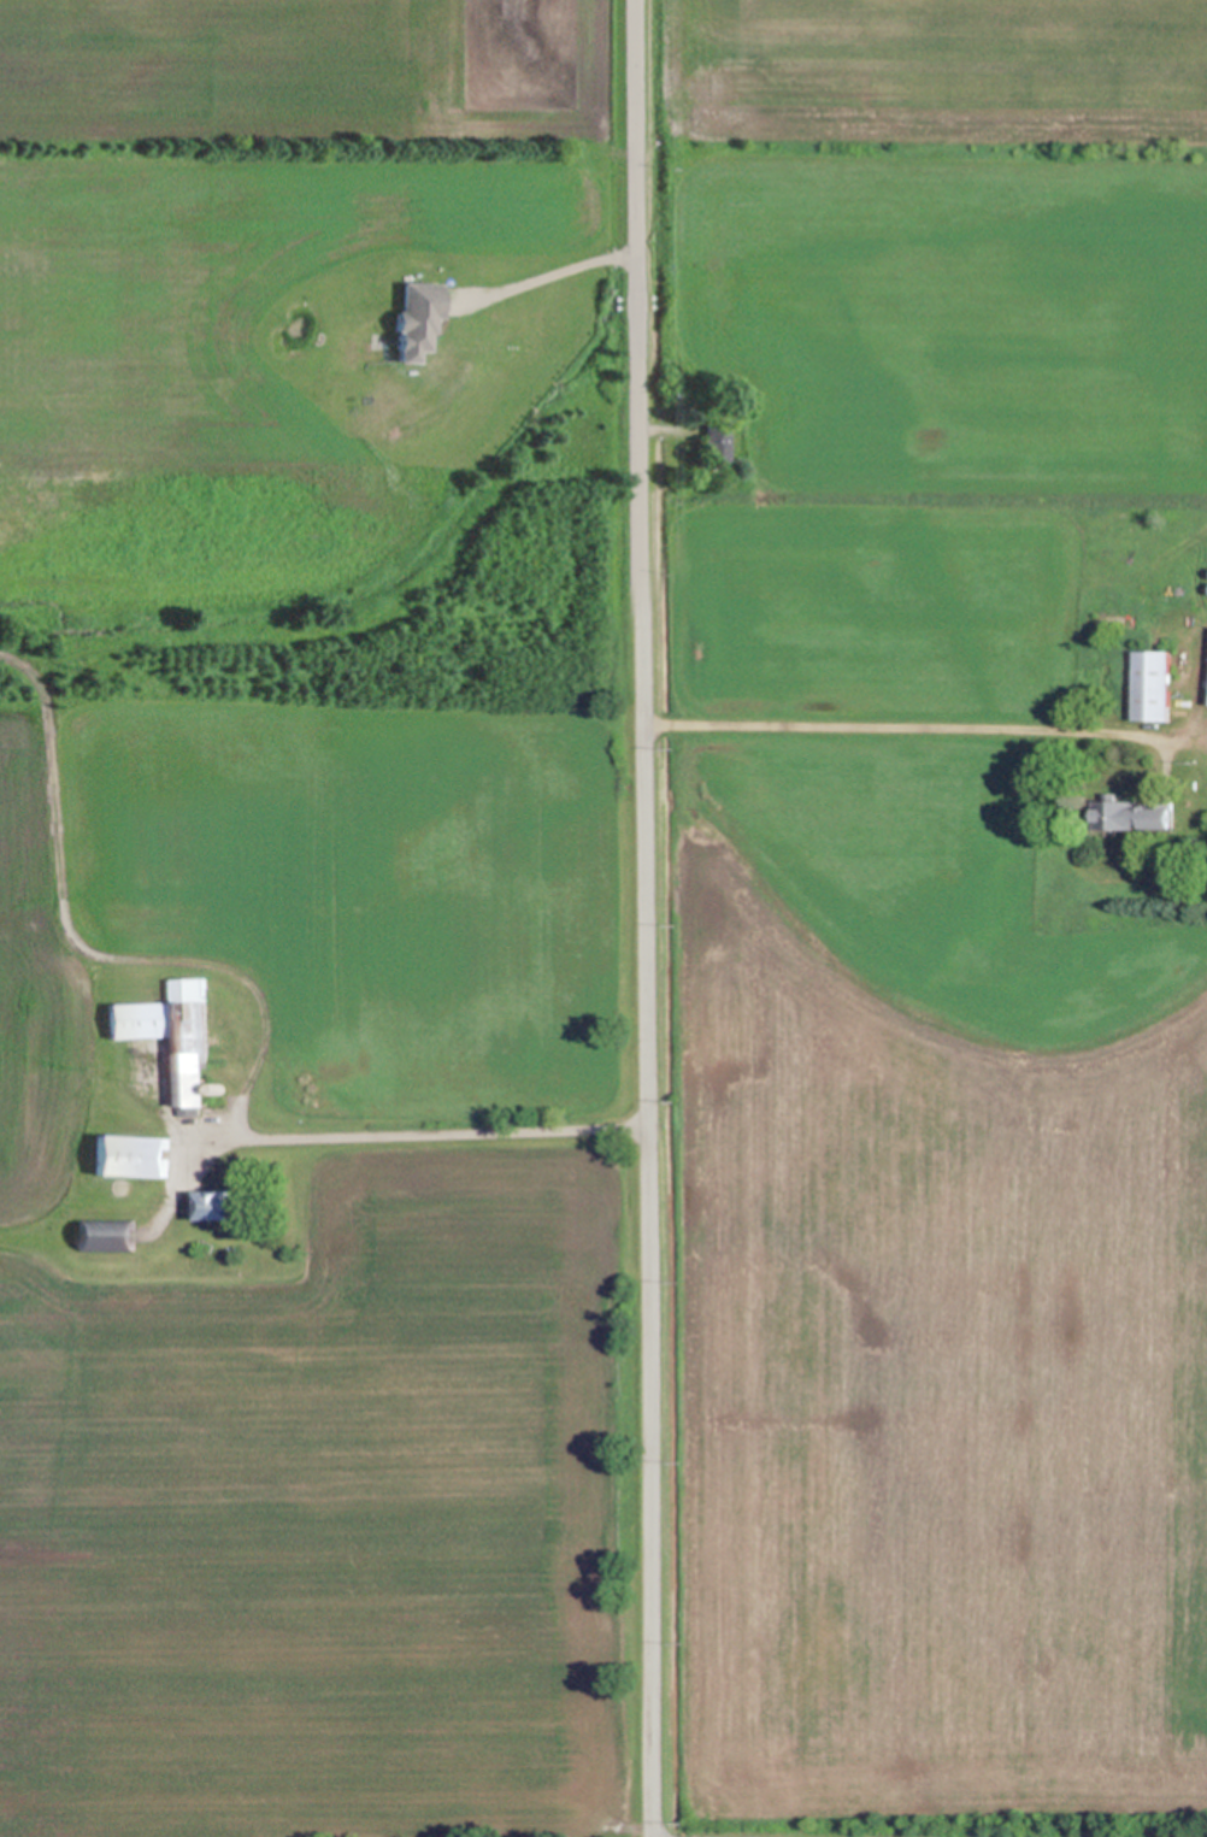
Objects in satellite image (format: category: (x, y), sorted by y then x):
road: (550, 275)
building: (419, 314)
building: (388, 338)
building: (716, 441)
building: (488, 475)
building: (1154, 684)
building: (1206, 696)
road: (888, 729)
building: (1137, 814)
road: (644, 918)
building: (172, 1038)
building: (219, 1088)
road: (438, 1134)
building: (130, 1155)
building: (219, 1203)
building: (104, 1234)
building: (201, 1243)

